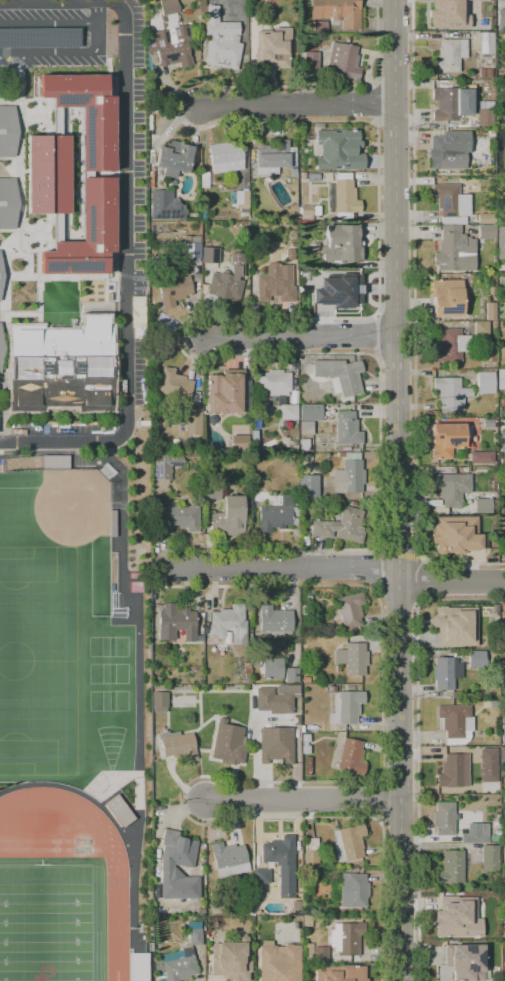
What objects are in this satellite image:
building: (484, 1)
building: (167, 6)
building: (337, 11)
building: (447, 11)
road: (96, 13)
building: (500, 17)
building: (170, 21)
building: (252, 21)
road: (48, 24)
building: (316, 27)
building: (474, 27)
building: (488, 27)
building: (39, 37)
building: (221, 41)
building: (485, 43)
building: (171, 46)
building: (277, 47)
road: (61, 52)
building: (450, 55)
building: (310, 60)
building: (344, 60)
building: (485, 71)
building: (0, 81)
building: (447, 104)
road: (296, 106)
building: (485, 112)
building: (85, 114)
building: (8, 130)
building: (448, 148)
building: (339, 149)
building: (172, 158)
building: (225, 158)
building: (277, 160)
building: (501, 166)
building: (46, 174)
building: (313, 176)
building: (204, 182)
building: (345, 195)
building: (329, 197)
building: (240, 199)
building: (8, 202)
building: (451, 202)
building: (165, 206)
building: (308, 210)
building: (486, 216)
road: (124, 221)
building: (159, 228)
building: (485, 232)
building: (86, 233)
parking lot: (132, 235)
building: (501, 242)
building: (342, 243)
building: (314, 246)
building: (190, 247)
building: (454, 250)
building: (289, 254)
building: (211, 255)
building: (356, 271)
building: (227, 279)
building: (275, 283)
building: (197, 284)
building: (0, 285)
building: (173, 290)
building: (491, 290)
building: (338, 291)
building: (446, 298)
building: (489, 311)
building: (500, 312)
building: (480, 328)
road: (299, 338)
building: (451, 345)
building: (1, 346)
building: (61, 366)
building: (338, 375)
building: (501, 378)
building: (485, 382)
building: (174, 384)
building: (279, 390)
building: (227, 391)
building: (450, 393)
building: (263, 409)
building: (499, 410)
building: (310, 412)
building: (193, 421)
building: (284, 424)
building: (305, 427)
building: (346, 428)
building: (254, 436)
building: (446, 439)
building: (502, 439)
building: (239, 441)
building: (157, 443)
building: (481, 457)
building: (55, 461)
building: (164, 466)
building: (334, 480)
building: (289, 486)
building: (451, 487)
road: (395, 490)
building: (211, 492)
building: (325, 493)
building: (483, 502)
building: (271, 504)
building: (229, 517)
building: (174, 518)
building: (113, 523)
building: (340, 525)
building: (459, 537)
park: (47, 546)
road: (333, 572)
building: (135, 576)
building: (136, 587)
building: (349, 610)
road: (293, 612)
building: (274, 619)
building: (176, 622)
building: (229, 624)
building: (455, 626)
road: (138, 640)
park: (109, 646)
building: (353, 658)
building: (475, 658)
park: (38, 661)
building: (272, 668)
building: (445, 672)
park: (109, 673)
building: (291, 675)
building: (263, 700)
park: (109, 701)
building: (158, 701)
building: (345, 705)
building: (503, 720)
building: (454, 723)
building: (503, 734)
park: (111, 742)
building: (227, 743)
building: (275, 745)
building: (178, 746)
road: (416, 748)
building: (484, 753)
building: (350, 756)
building: (502, 761)
building: (451, 771)
road: (78, 791)
road: (302, 803)
building: (118, 810)
building: (444, 818)
building: (474, 834)
track: (34, 841)
building: (348, 842)
track: (36, 849)
building: (310, 852)
building: (489, 857)
building: (228, 859)
building: (281, 863)
building: (185, 865)
building: (451, 867)
building: (261, 875)
building: (503, 878)
building: (353, 889)
building: (296, 905)
building: (322, 910)
building: (160, 911)
building: (240, 911)
building: (248, 911)
building: (310, 911)
building: (257, 912)
building: (450, 916)
building: (307, 921)
park: (46, 923)
park: (51, 924)
building: (193, 924)
building: (488, 925)
road: (116, 928)
track: (116, 928)
building: (210, 934)
building: (195, 937)
building: (346, 938)
building: (504, 942)
building: (308, 951)
building: (321, 954)
building: (231, 959)
building: (465, 961)
building: (278, 962)
building: (176, 965)
building: (137, 967)
building: (340, 973)

